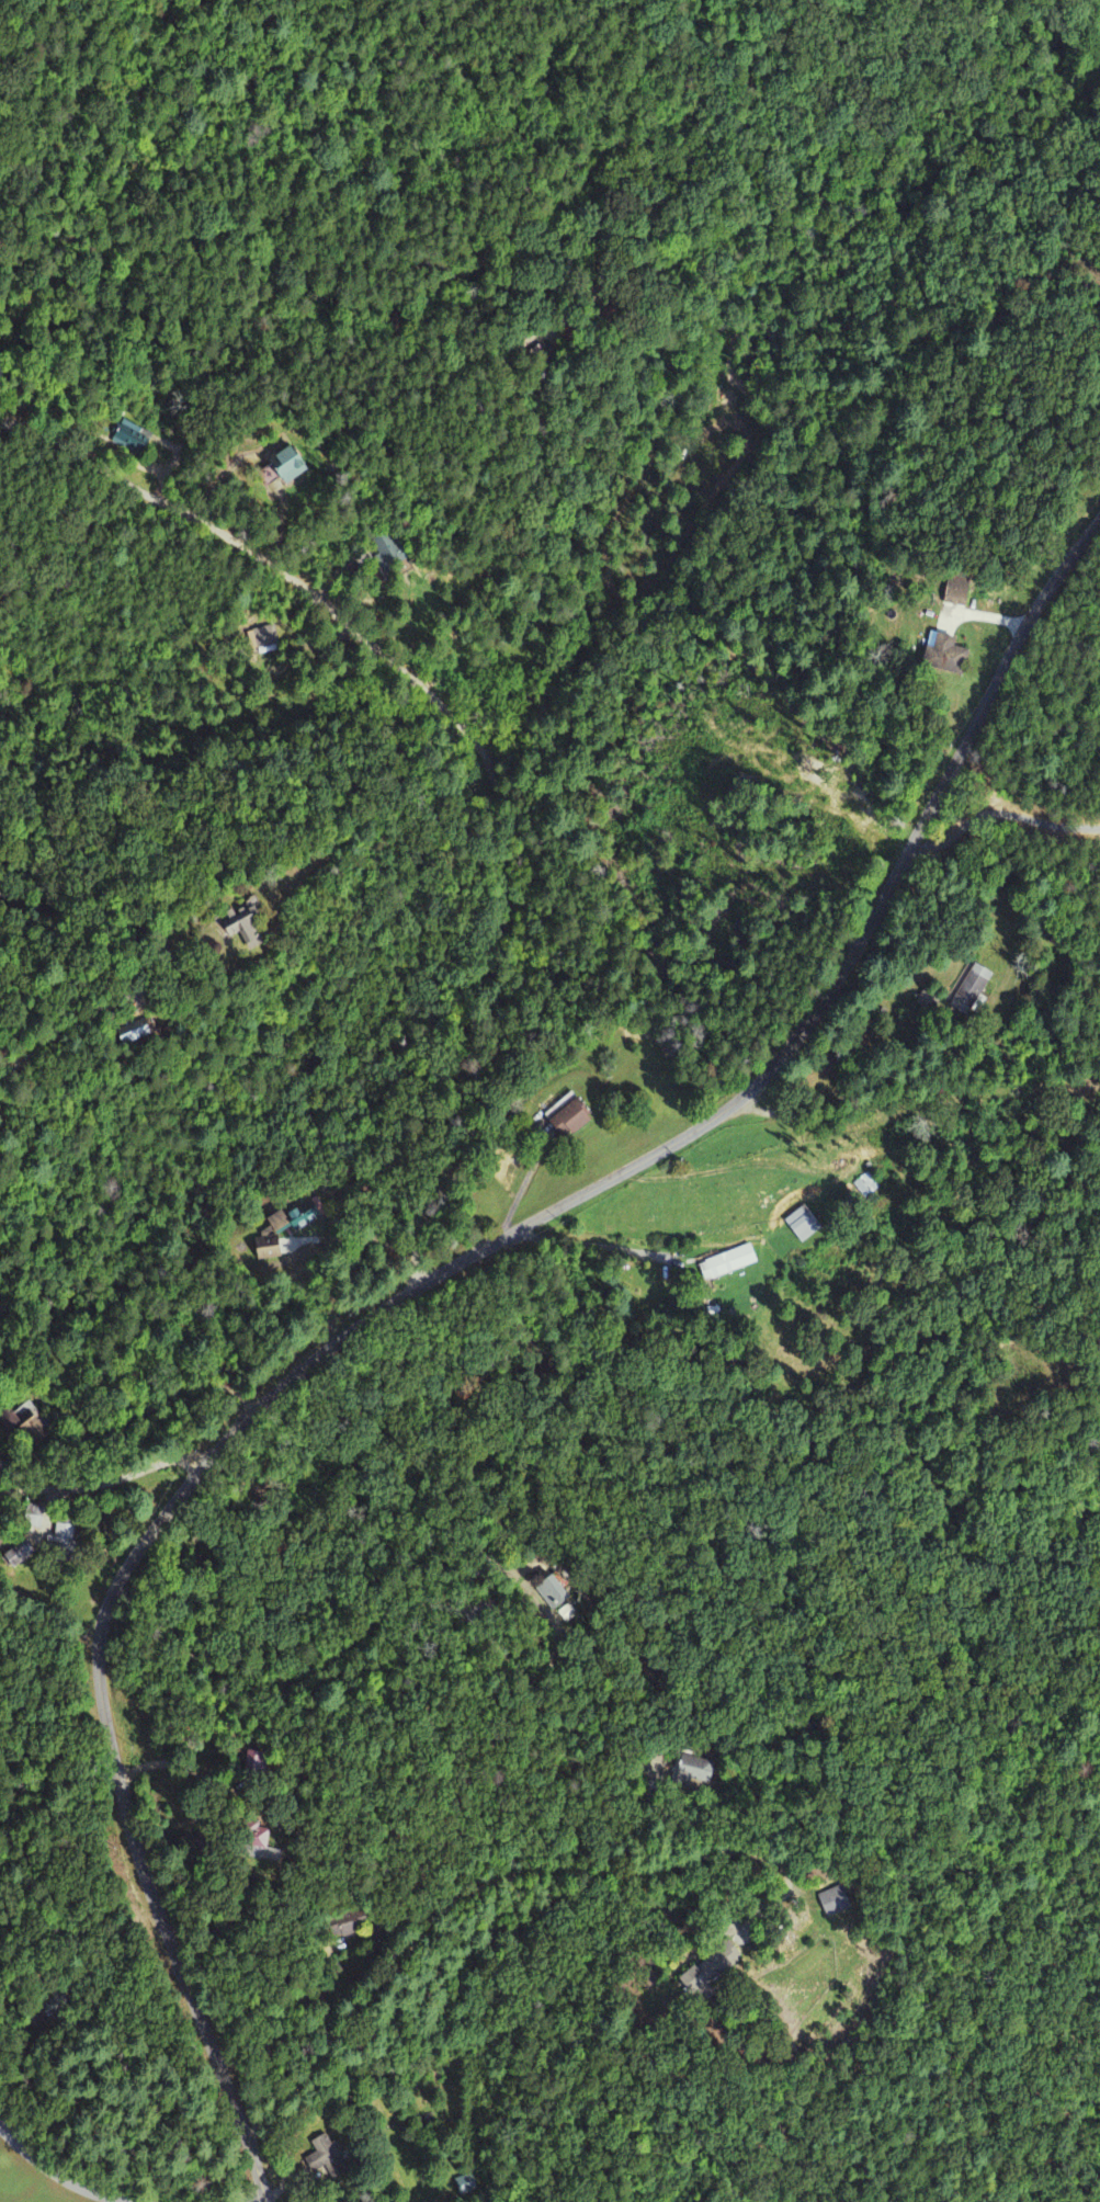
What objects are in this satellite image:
building: (131, 439)
building: (280, 468)
building: (954, 592)
building: (264, 642)
building: (942, 655)
road: (475, 739)
building: (967, 989)
building: (567, 1120)
building: (865, 1185)
building: (800, 1225)
building: (276, 1236)
building: (726, 1263)
road: (409, 1291)
road: (102, 1482)
building: (20, 1555)
building: (554, 1591)
building: (699, 1775)
building: (254, 1839)
building: (833, 1903)
building: (708, 1970)
building: (325, 2158)
road: (60, 2176)

